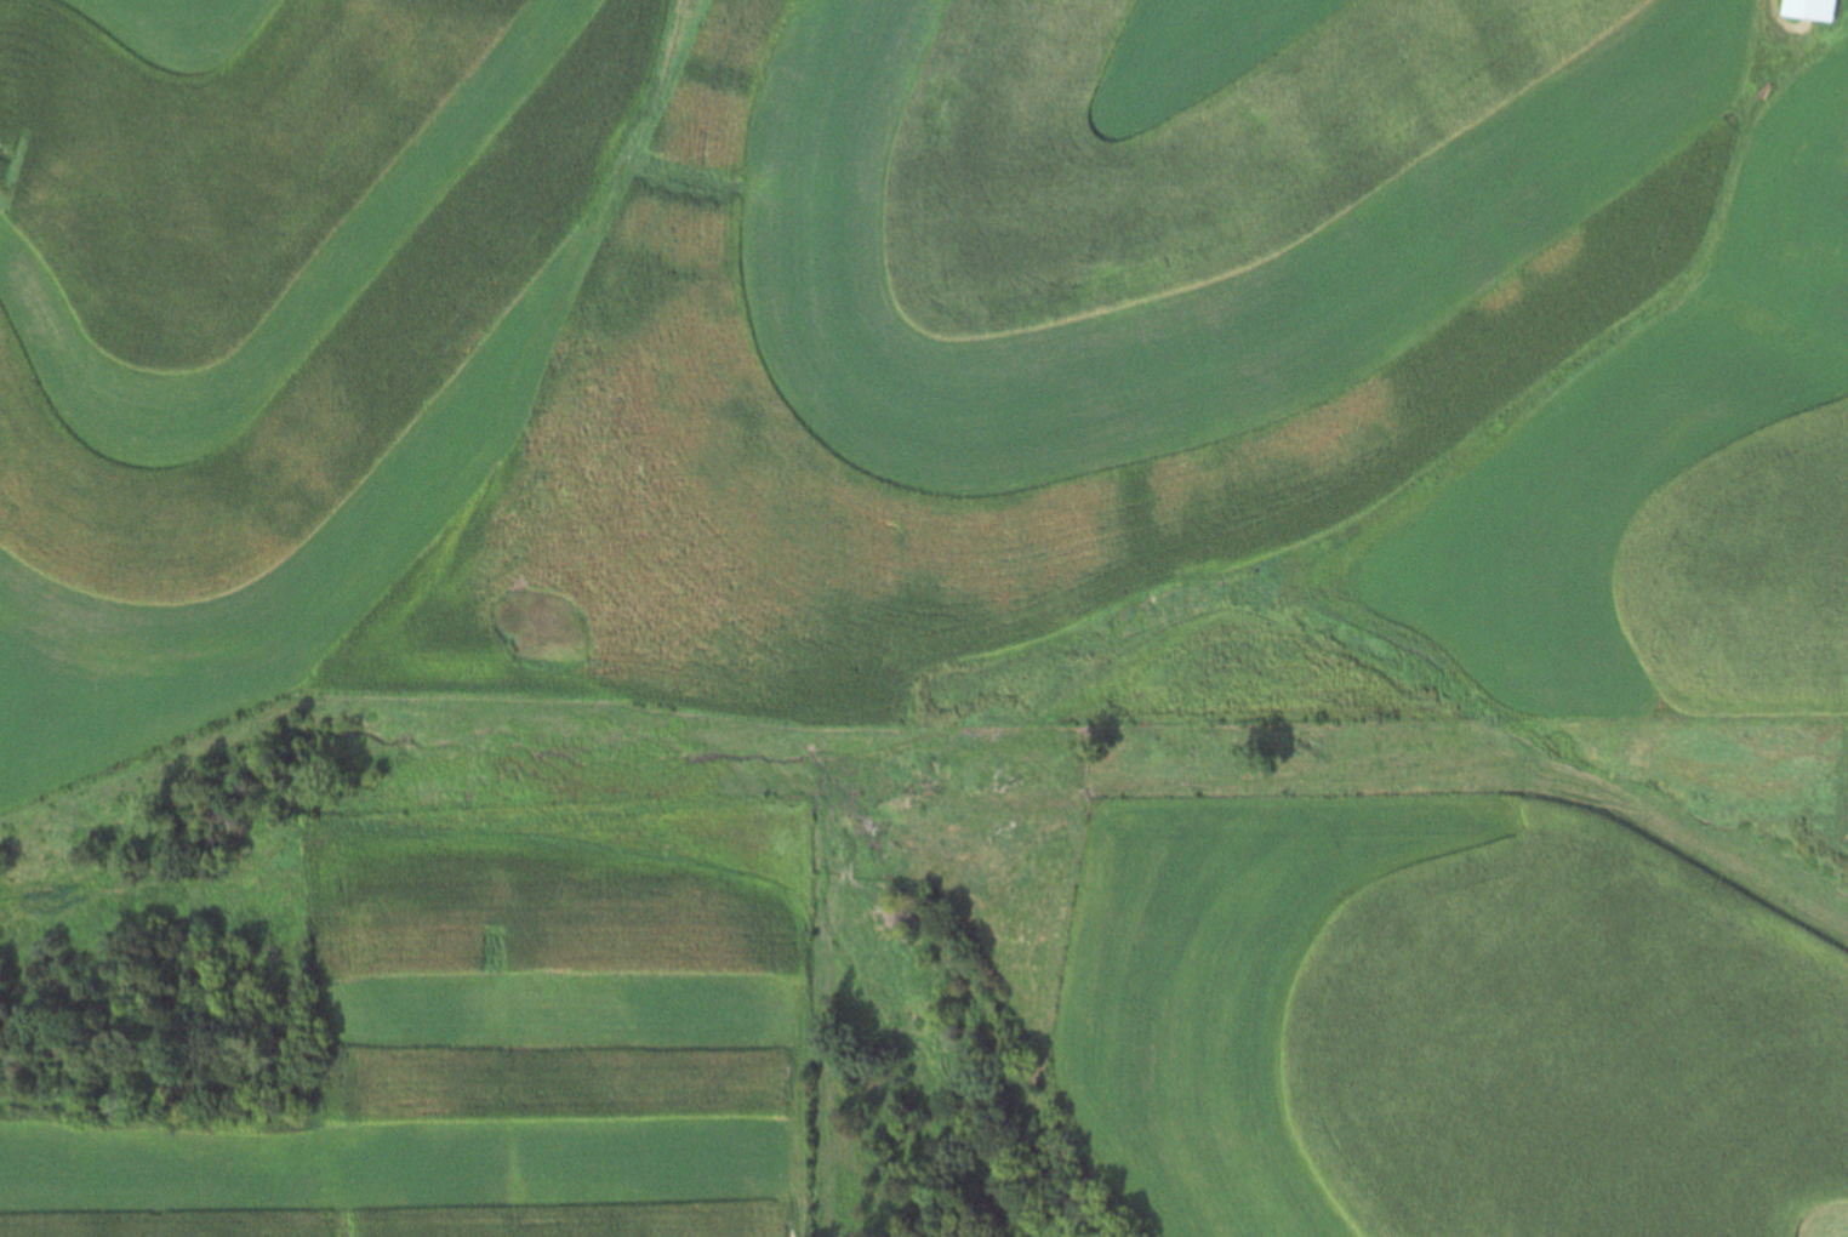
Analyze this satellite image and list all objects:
building: (1812, 8)

